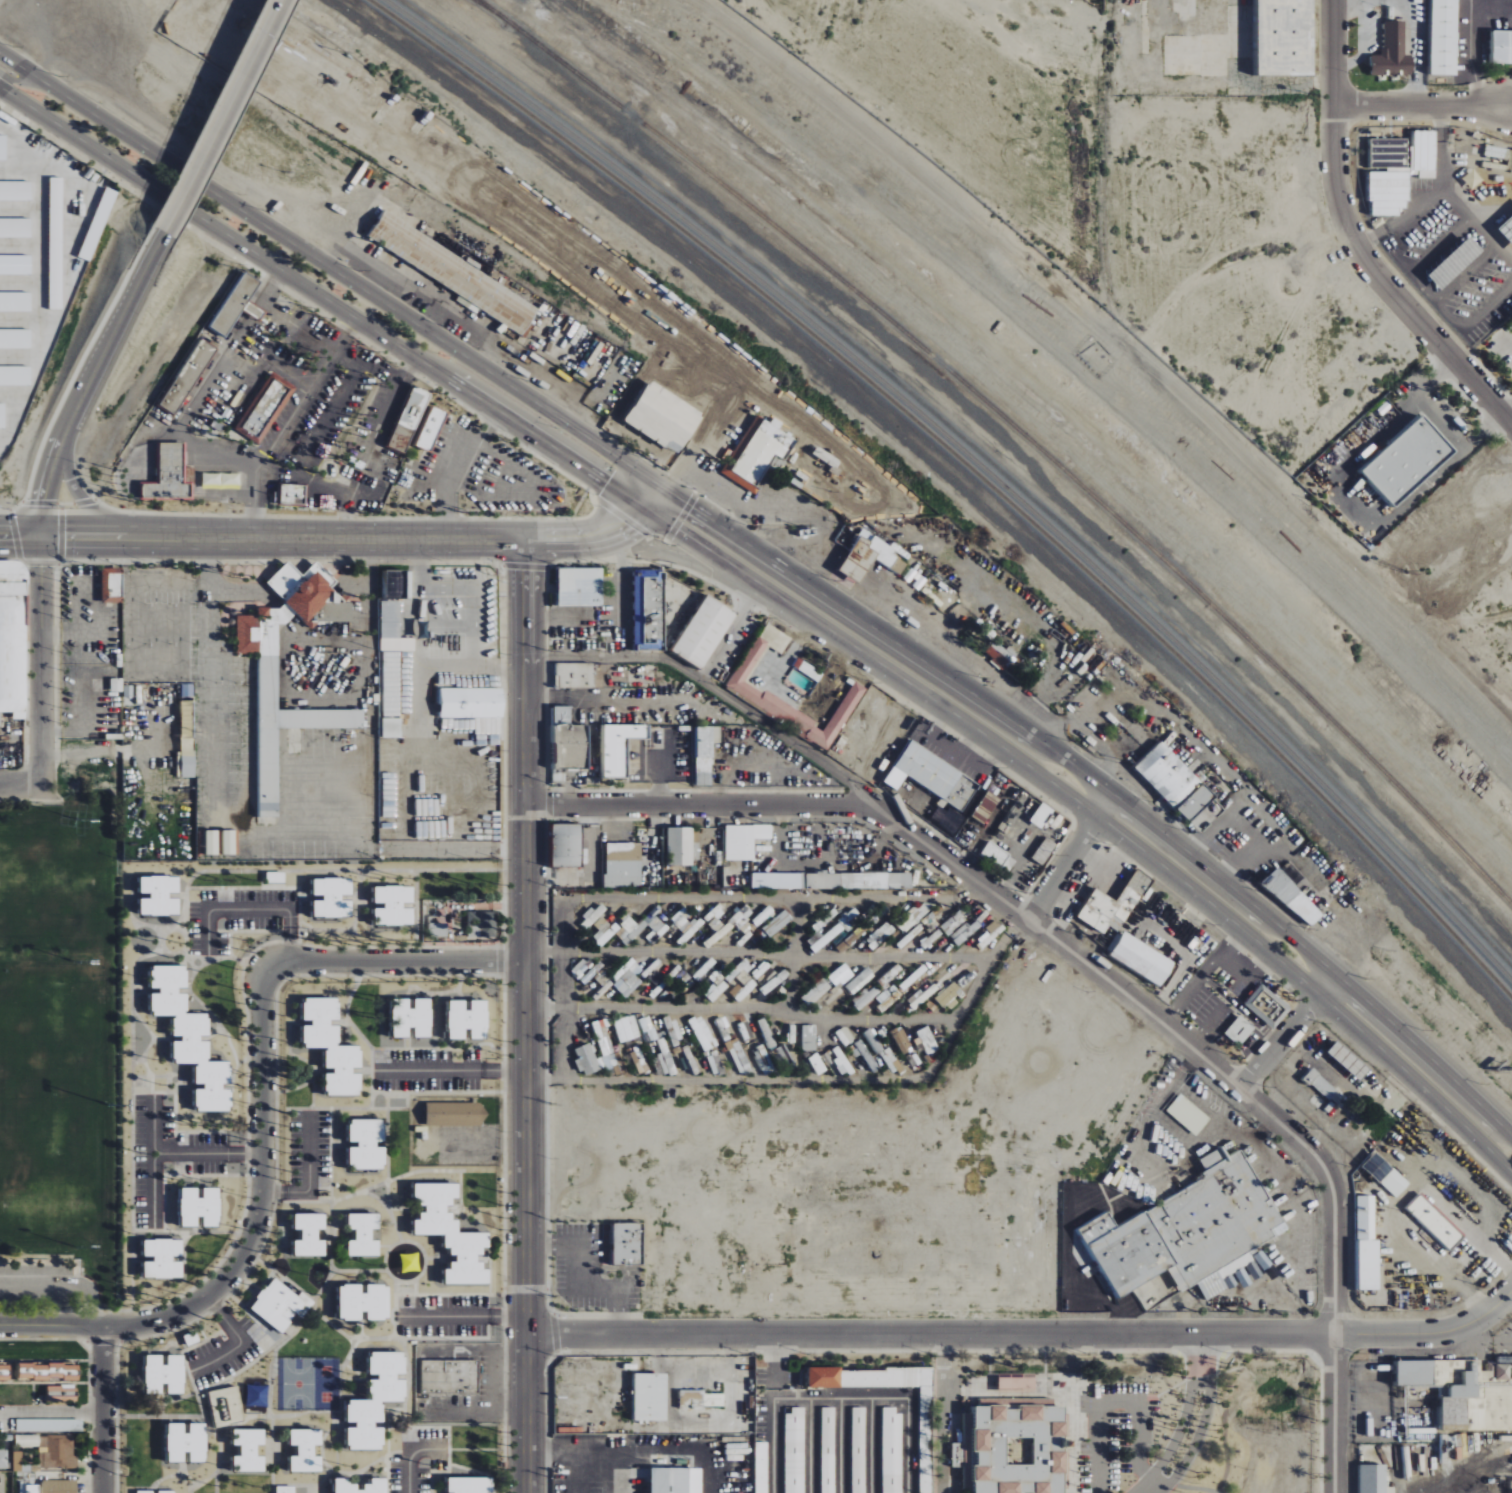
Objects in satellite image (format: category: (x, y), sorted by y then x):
railway: (487, 6)
building: (1286, 37)
building: (1438, 37)
building: (1388, 53)
road: (48, 77)
road: (20, 83)
road: (1421, 100)
road: (221, 117)
building: (3, 147)
building: (1393, 171)
building: (16, 191)
building: (98, 224)
building: (16, 227)
road: (1353, 239)
building: (56, 243)
road: (310, 257)
building: (15, 265)
building: (457, 275)
road: (303, 284)
building: (16, 301)
building: (236, 304)
building: (1510, 316)
building: (16, 338)
road: (111, 340)
building: (15, 376)
building: (188, 377)
road: (341, 405)
road: (511, 406)
building: (265, 408)
building: (2, 416)
building: (664, 418)
building: (409, 420)
railway: (1015, 427)
road: (174, 428)
building: (432, 428)
building: (758, 452)
road: (262, 459)
railway: (973, 460)
road: (686, 461)
building: (1409, 461)
road: (451, 466)
railway: (968, 467)
road: (50, 473)
building: (171, 474)
traffic signals: (613, 474)
road: (642, 474)
traffic signals: (674, 477)
road: (671, 479)
building: (221, 480)
traffic signals: (607, 483)
road: (636, 485)
building: (293, 494)
road: (626, 495)
road: (654, 498)
road: (677, 498)
traffic signals: (45, 501)
road: (84, 503)
road: (666, 508)
traffic signals: (692, 508)
road: (636, 517)
road: (44, 518)
traffic signals: (686, 518)
road: (662, 519)
traffic signals: (628, 526)
road: (6, 536)
traffic signals: (12, 536)
road: (27, 536)
road: (54, 536)
traffic signals: (65, 536)
road: (294, 538)
road: (577, 540)
road: (42, 553)
building: (867, 558)
traffic signals: (41, 571)
building: (112, 585)
building: (580, 587)
building: (302, 591)
building: (650, 611)
building: (393, 629)
building: (705, 632)
road: (881, 633)
building: (12, 638)
road: (875, 644)
building: (996, 656)
road: (671, 661)
road: (880, 663)
building: (808, 670)
building: (574, 676)
road: (41, 677)
building: (117, 685)
building: (742, 689)
building: (472, 703)
building: (311, 719)
building: (392, 728)
building: (187, 731)
road: (787, 736)
road: (20, 738)
building: (570, 741)
building: (621, 747)
building: (706, 753)
building: (928, 770)
building: (1167, 774)
road: (21, 784)
road: (1098, 797)
building: (986, 808)
road: (1088, 809)
building: (1202, 809)
building: (960, 829)
building: (744, 841)
building: (212, 842)
building: (229, 842)
building: (567, 845)
building: (680, 847)
building: (999, 857)
building: (624, 866)
road: (1064, 869)
road: (1195, 874)
road: (965, 875)
building: (276, 877)
building: (832, 881)
park: (53, 885)
building: (160, 896)
road: (1202, 896)
building: (333, 898)
building: (1287, 898)
building: (394, 906)
building: (1109, 910)
building: (594, 914)
building: (481, 924)
building: (604, 931)
building: (656, 931)
building: (628, 932)
building: (880, 936)
building: (827, 938)
road: (1296, 942)
road: (775, 948)
road: (396, 958)
building: (1139, 959)
road: (561, 965)
building: (733, 975)
road: (1321, 976)
building: (627, 983)
building: (854, 985)
building: (717, 987)
road: (1312, 987)
building: (744, 989)
building: (817, 992)
building: (948, 995)
building: (890, 996)
building: (1262, 1005)
road: (818, 1007)
road: (525, 1016)
building: (412, 1019)
building: (468, 1020)
park: (53, 1022)
building: (627, 1029)
building: (648, 1029)
building: (1235, 1030)
building: (601, 1031)
building: (843, 1033)
building: (702, 1034)
building: (810, 1038)
building: (191, 1039)
building: (874, 1041)
building: (928, 1041)
road: (1279, 1042)
building: (332, 1047)
building: (665, 1058)
building: (587, 1060)
building: (1342, 1060)
building: (764, 1061)
building: (817, 1064)
building: (843, 1065)
road: (1418, 1065)
road: (453, 1070)
road: (1417, 1082)
building: (1316, 1084)
road: (1161, 1092)
building: (455, 1114)
building: (1184, 1114)
building: (367, 1143)
park: (53, 1152)
road: (207, 1152)
road: (153, 1163)
road: (308, 1178)
building: (1391, 1182)
road: (1283, 1185)
road: (260, 1197)
building: (200, 1206)
building: (1431, 1221)
building: (1184, 1232)
building: (451, 1233)
road: (1068, 1233)
building: (310, 1234)
building: (364, 1234)
building: (1361, 1242)
building: (628, 1243)
building: (163, 1258)
road: (583, 1276)
parking lot: (35, 1284)
road: (62, 1284)
road: (1220, 1299)
building: (364, 1301)
building: (277, 1304)
building: (305, 1304)
road: (464, 1316)
road: (50, 1324)
road: (1334, 1327)
road: (1024, 1329)
road: (241, 1340)
road: (1200, 1348)
road: (773, 1365)
building: (1494, 1372)
building: (164, 1373)
building: (1406, 1373)
building: (45, 1374)
building: (450, 1376)
building: (1017, 1380)
building: (651, 1396)
road: (841, 1398)
building: (692, 1399)
building: (376, 1400)
road: (1117, 1400)
building: (226, 1406)
road: (102, 1408)
road: (941, 1411)
road: (51, 1412)
building: (71, 1425)
building: (925, 1426)
road: (1178, 1433)
road: (1198, 1438)
building: (187, 1442)
road: (871, 1445)
road: (811, 1446)
road: (841, 1446)
road: (565, 1447)
road: (689, 1448)
building: (249, 1449)
building: (1015, 1449)
building: (306, 1450)
building: (828, 1450)
building: (858, 1450)
building: (892, 1450)
building: (56, 1451)
building: (794, 1451)
road: (409, 1455)
building: (3, 1459)
building: (761, 1467)
road: (572, 1470)
road: (609, 1470)
road: (696, 1471)
building: (1368, 1478)
building: (676, 1480)
building: (471, 1484)
building: (376, 1485)
building: (59, 1486)
building: (145, 1491)
building: (167, 1491)

